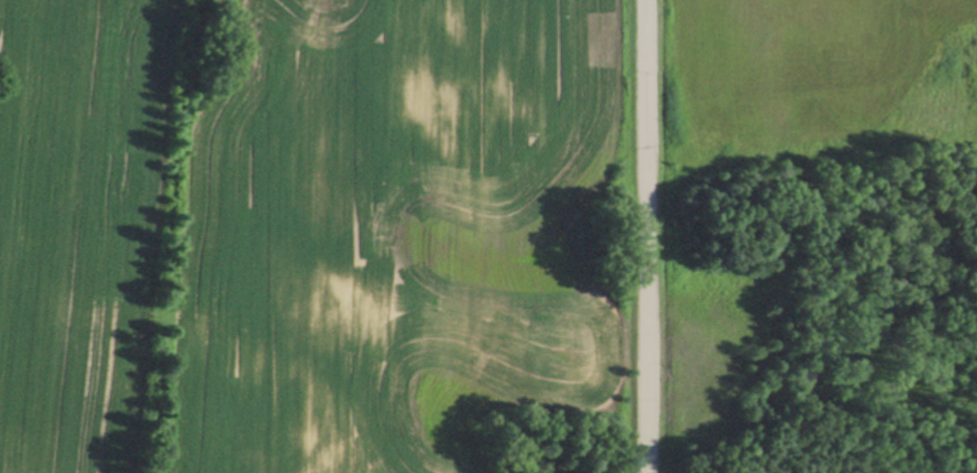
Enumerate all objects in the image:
road: (645, 236)

